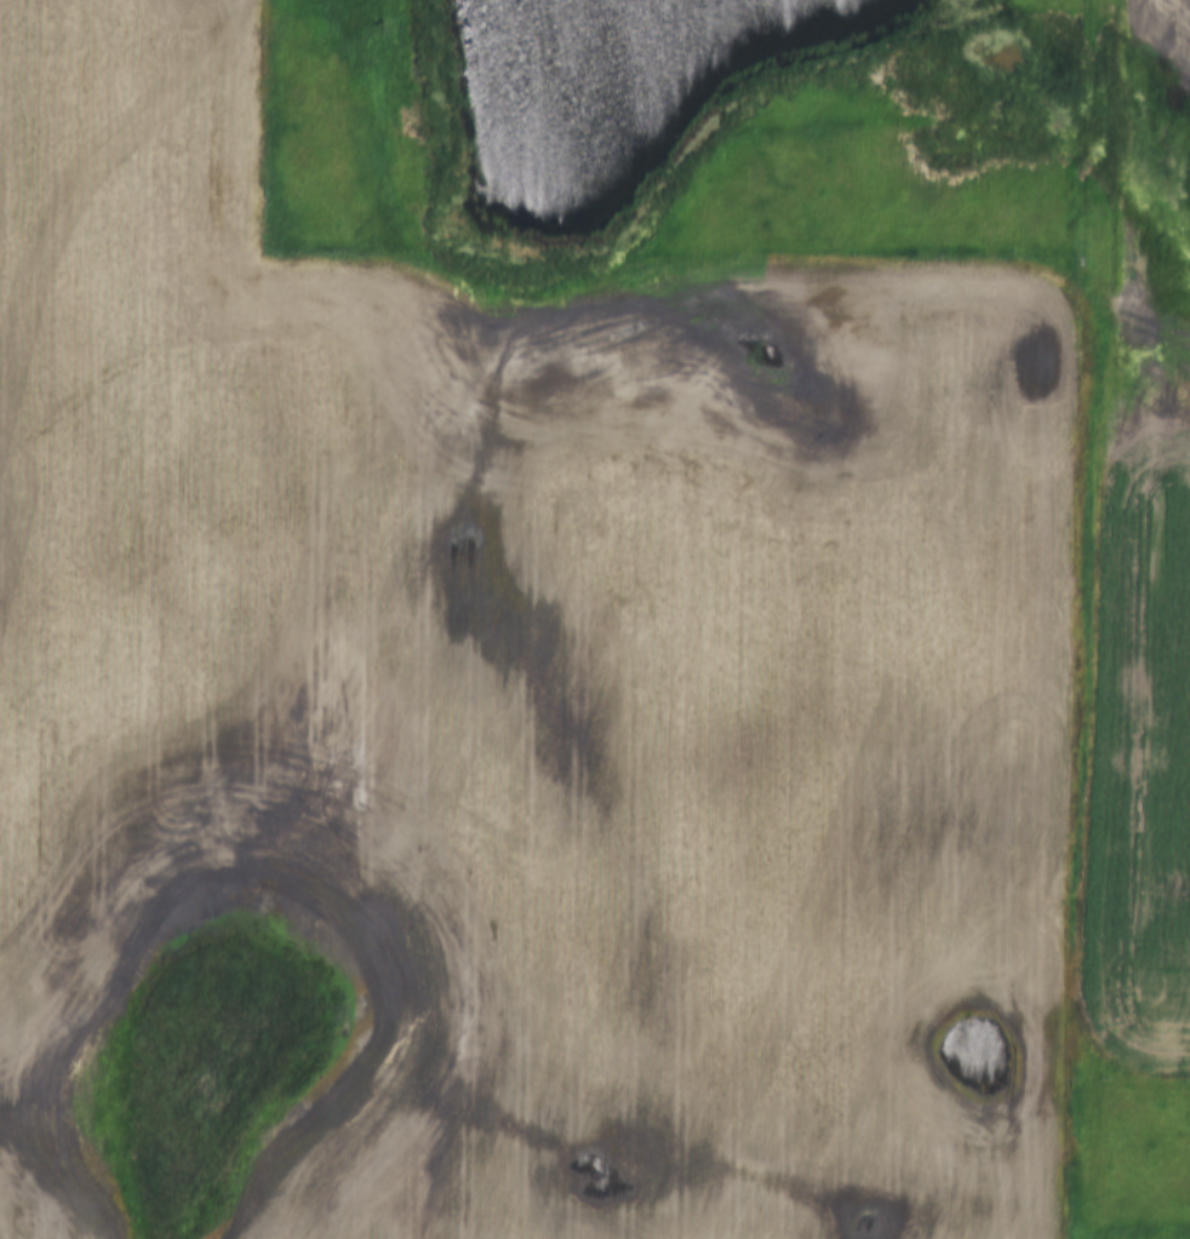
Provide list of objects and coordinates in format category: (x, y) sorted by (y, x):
crop: (1161, 38)
crop: (1142, 692)

